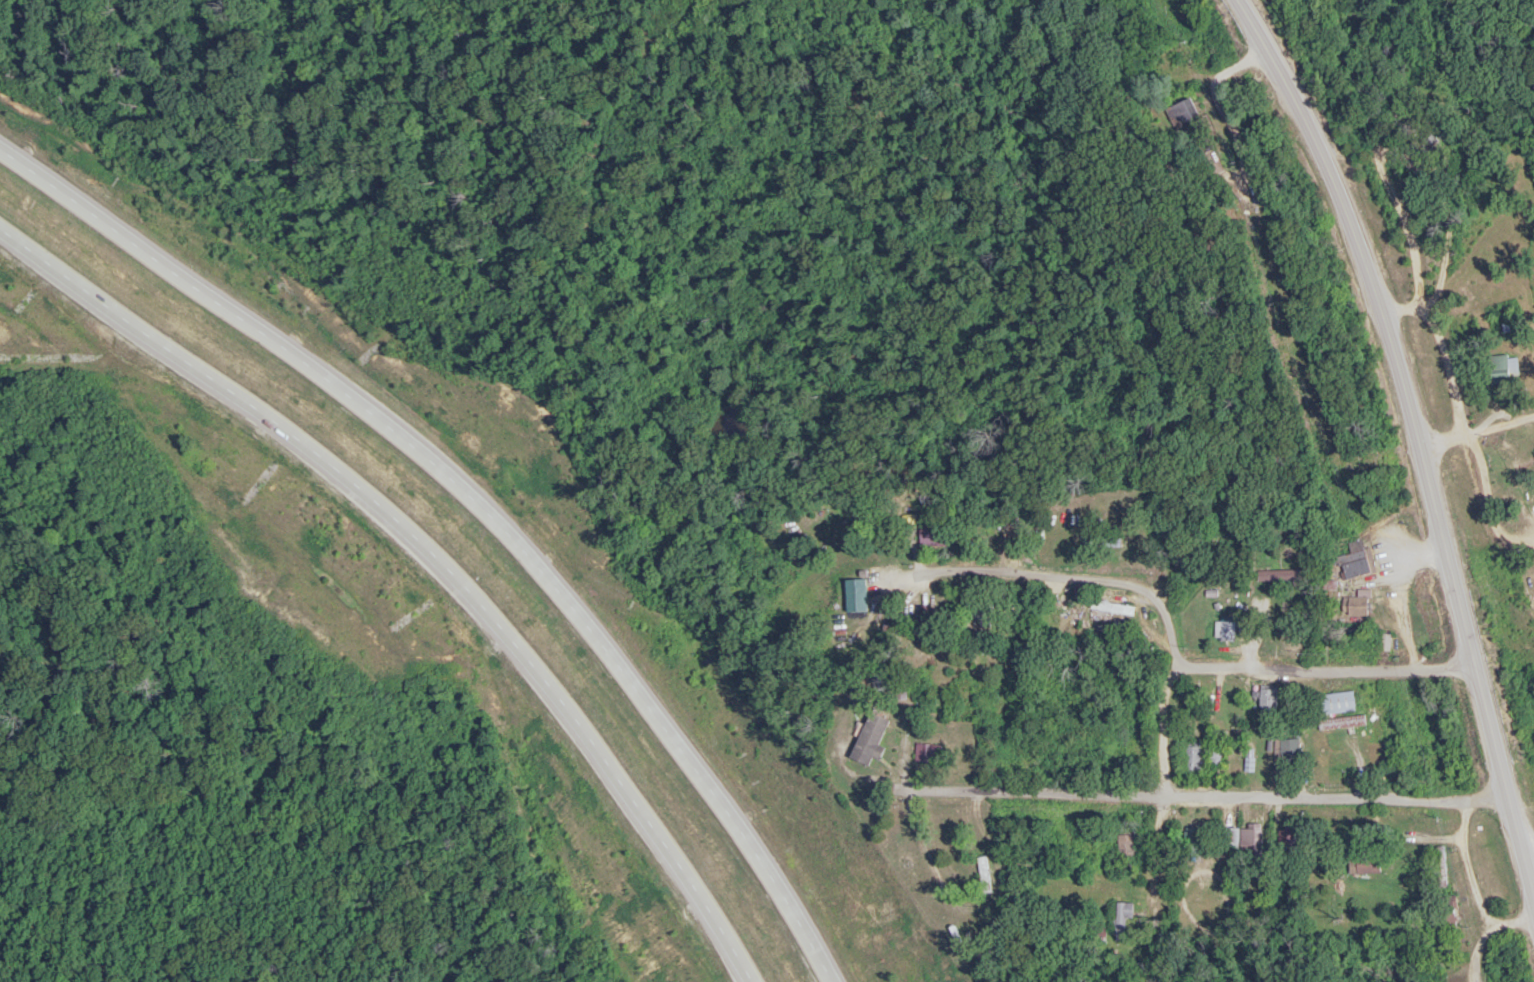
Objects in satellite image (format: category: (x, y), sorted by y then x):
building: (1188, 113)
building: (1497, 327)
road: (1419, 437)
road: (471, 515)
building: (931, 532)
building: (1360, 560)
road: (423, 566)
building: (1283, 575)
road: (1080, 577)
building: (858, 594)
building: (1360, 604)
building: (1113, 608)
building: (1226, 629)
building: (1389, 641)
road: (1211, 667)
building: (1269, 700)
building: (1338, 703)
building: (1344, 722)
building: (876, 739)
building: (1216, 756)
building: (1194, 758)
road: (1208, 798)
building: (1251, 837)
building: (1192, 840)
building: (1127, 845)
building: (1366, 864)
building: (980, 870)
road: (1475, 882)
building: (1121, 921)

